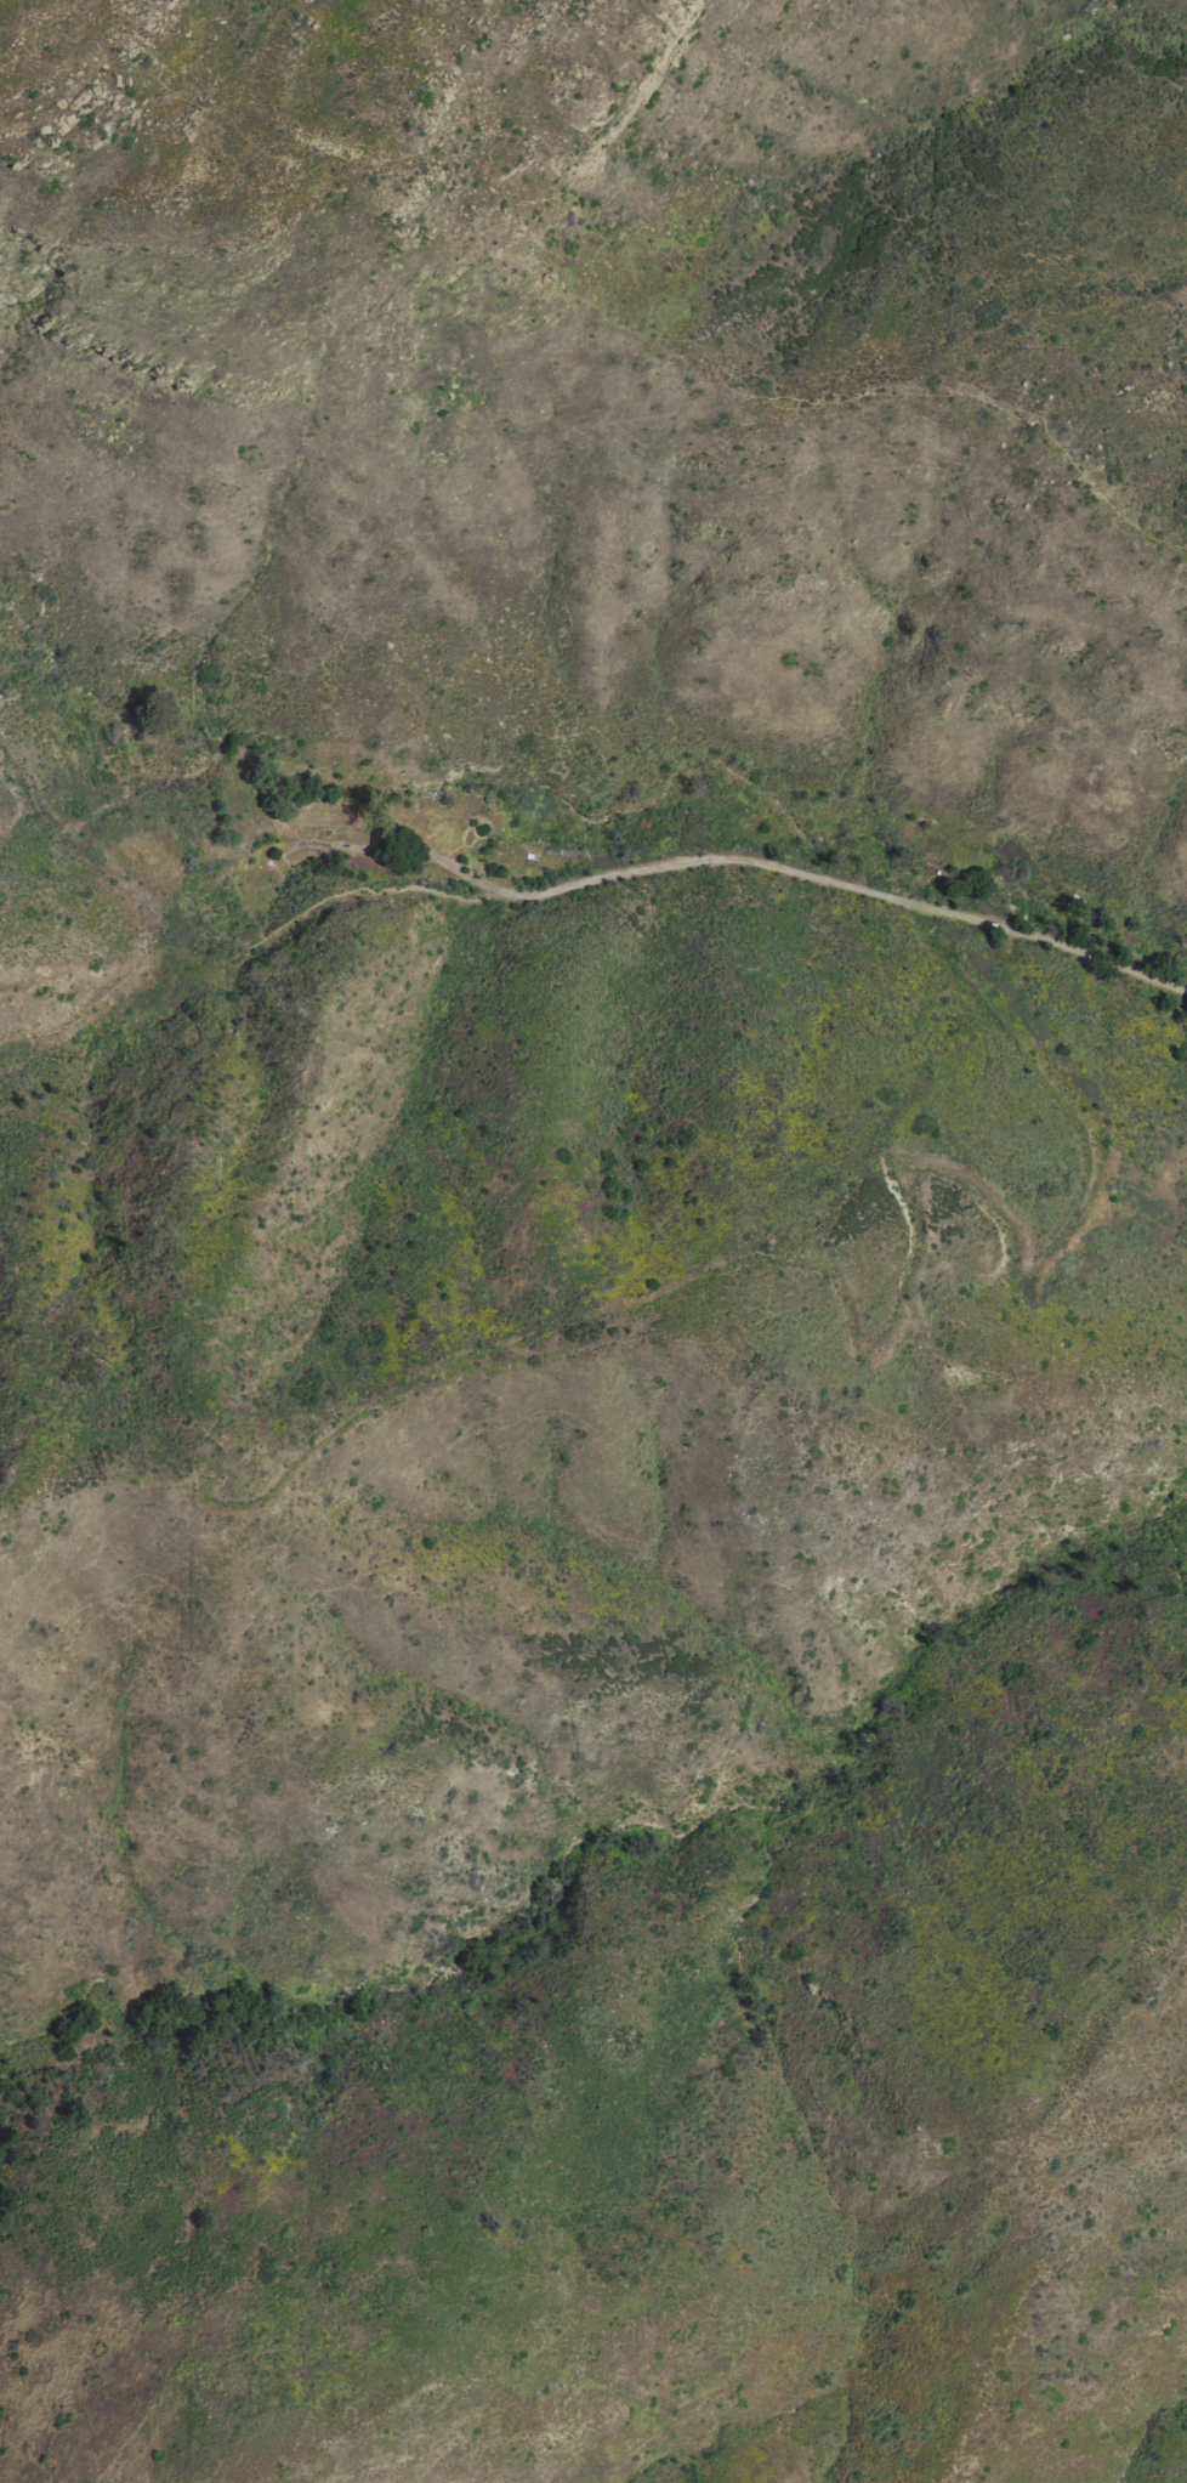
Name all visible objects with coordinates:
road: (138, 783)
road: (726, 857)

